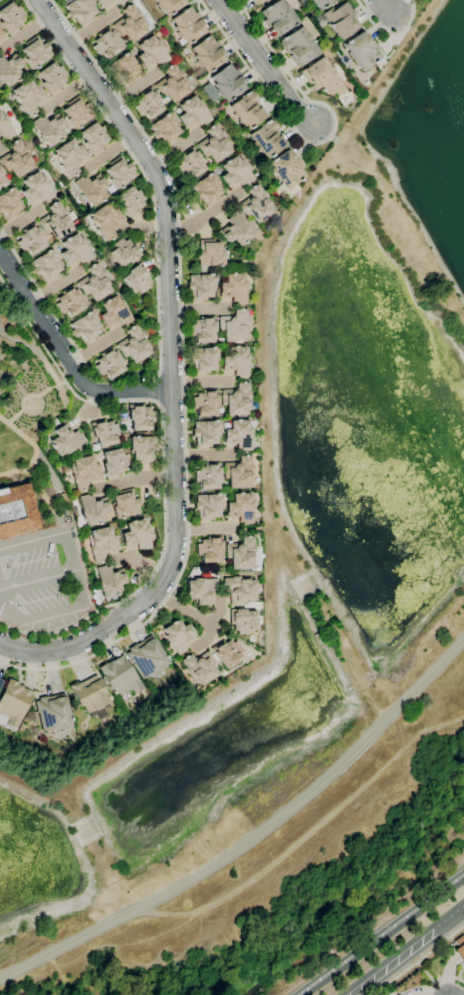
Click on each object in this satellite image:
road: (0, 0)
building: (256, 1)
building: (109, 2)
building: (320, 3)
building: (169, 5)
road: (385, 5)
building: (80, 11)
building: (11, 17)
building: (278, 17)
building: (339, 20)
building: (129, 24)
building: (187, 25)
road: (90, 26)
road: (24, 30)
road: (389, 31)
building: (1, 35)
building: (106, 43)
building: (298, 46)
building: (361, 51)
building: (35, 52)
building: (151, 52)
building: (208, 54)
road: (264, 63)
building: (122, 69)
building: (9, 70)
building: (197, 72)
building: (52, 77)
building: (321, 78)
building: (227, 83)
building: (171, 84)
road: (133, 87)
road: (66, 91)
building: (28, 97)
building: (147, 104)
building: (247, 110)
building: (77, 112)
building: (192, 112)
building: (5, 128)
building: (48, 129)
building: (164, 129)
building: (93, 137)
building: (266, 139)
road: (316, 142)
building: (213, 144)
road: (173, 148)
road: (108, 151)
building: (69, 157)
building: (16, 159)
building: (189, 164)
building: (286, 169)
building: (118, 172)
building: (234, 172)
road: (143, 174)
building: (1, 180)
building: (35, 188)
building: (90, 189)
building: (206, 189)
building: (288, 193)
building: (130, 202)
building: (9, 203)
building: (255, 204)
road: (201, 216)
road: (19, 219)
building: (55, 221)
building: (106, 221)
road: (147, 226)
building: (235, 229)
building: (30, 240)
building: (75, 250)
building: (123, 253)
building: (208, 254)
building: (46, 265)
building: (136, 279)
road: (52, 283)
building: (94, 283)
building: (199, 287)
building: (232, 288)
building: (69, 302)
road: (47, 305)
road: (197, 308)
building: (114, 312)
building: (232, 326)
building: (85, 327)
building: (201, 329)
building: (133, 345)
road: (93, 346)
road: (33, 348)
road: (64, 357)
building: (202, 360)
building: (235, 361)
building: (108, 363)
road: (170, 366)
road: (182, 378)
road: (199, 381)
road: (51, 387)
road: (22, 390)
road: (159, 391)
road: (39, 398)
building: (235, 399)
road: (90, 401)
building: (204, 402)
road: (15, 416)
building: (139, 417)
building: (104, 433)
building: (204, 433)
building: (238, 434)
road: (28, 439)
building: (65, 440)
building: (142, 449)
road: (202, 455)
building: (113, 463)
road: (162, 463)
road: (49, 471)
building: (84, 472)
building: (237, 472)
building: (207, 476)
road: (34, 477)
road: (12, 478)
road: (134, 478)
park: (35, 482)
building: (124, 504)
building: (206, 506)
building: (239, 508)
building: (92, 510)
building: (16, 511)
road: (205, 528)
building: (135, 535)
road: (31, 539)
road: (64, 539)
building: (101, 543)
building: (209, 549)
building: (241, 553)
road: (138, 562)
parking lot: (34, 578)
road: (36, 580)
building: (109, 581)
building: (200, 590)
building: (238, 590)
road: (48, 613)
road: (195, 615)
building: (242, 620)
building: (177, 636)
road: (205, 636)
building: (226, 653)
building: (146, 658)
building: (199, 667)
building: (119, 677)
building: (90, 697)
building: (13, 704)
building: (51, 713)
road: (252, 836)
road: (382, 935)
road: (441, 944)
building: (459, 947)
road: (406, 950)
road: (426, 972)
road: (396, 978)
road: (449, 979)
road: (430, 989)
building: (388, 993)
building: (397, 994)

